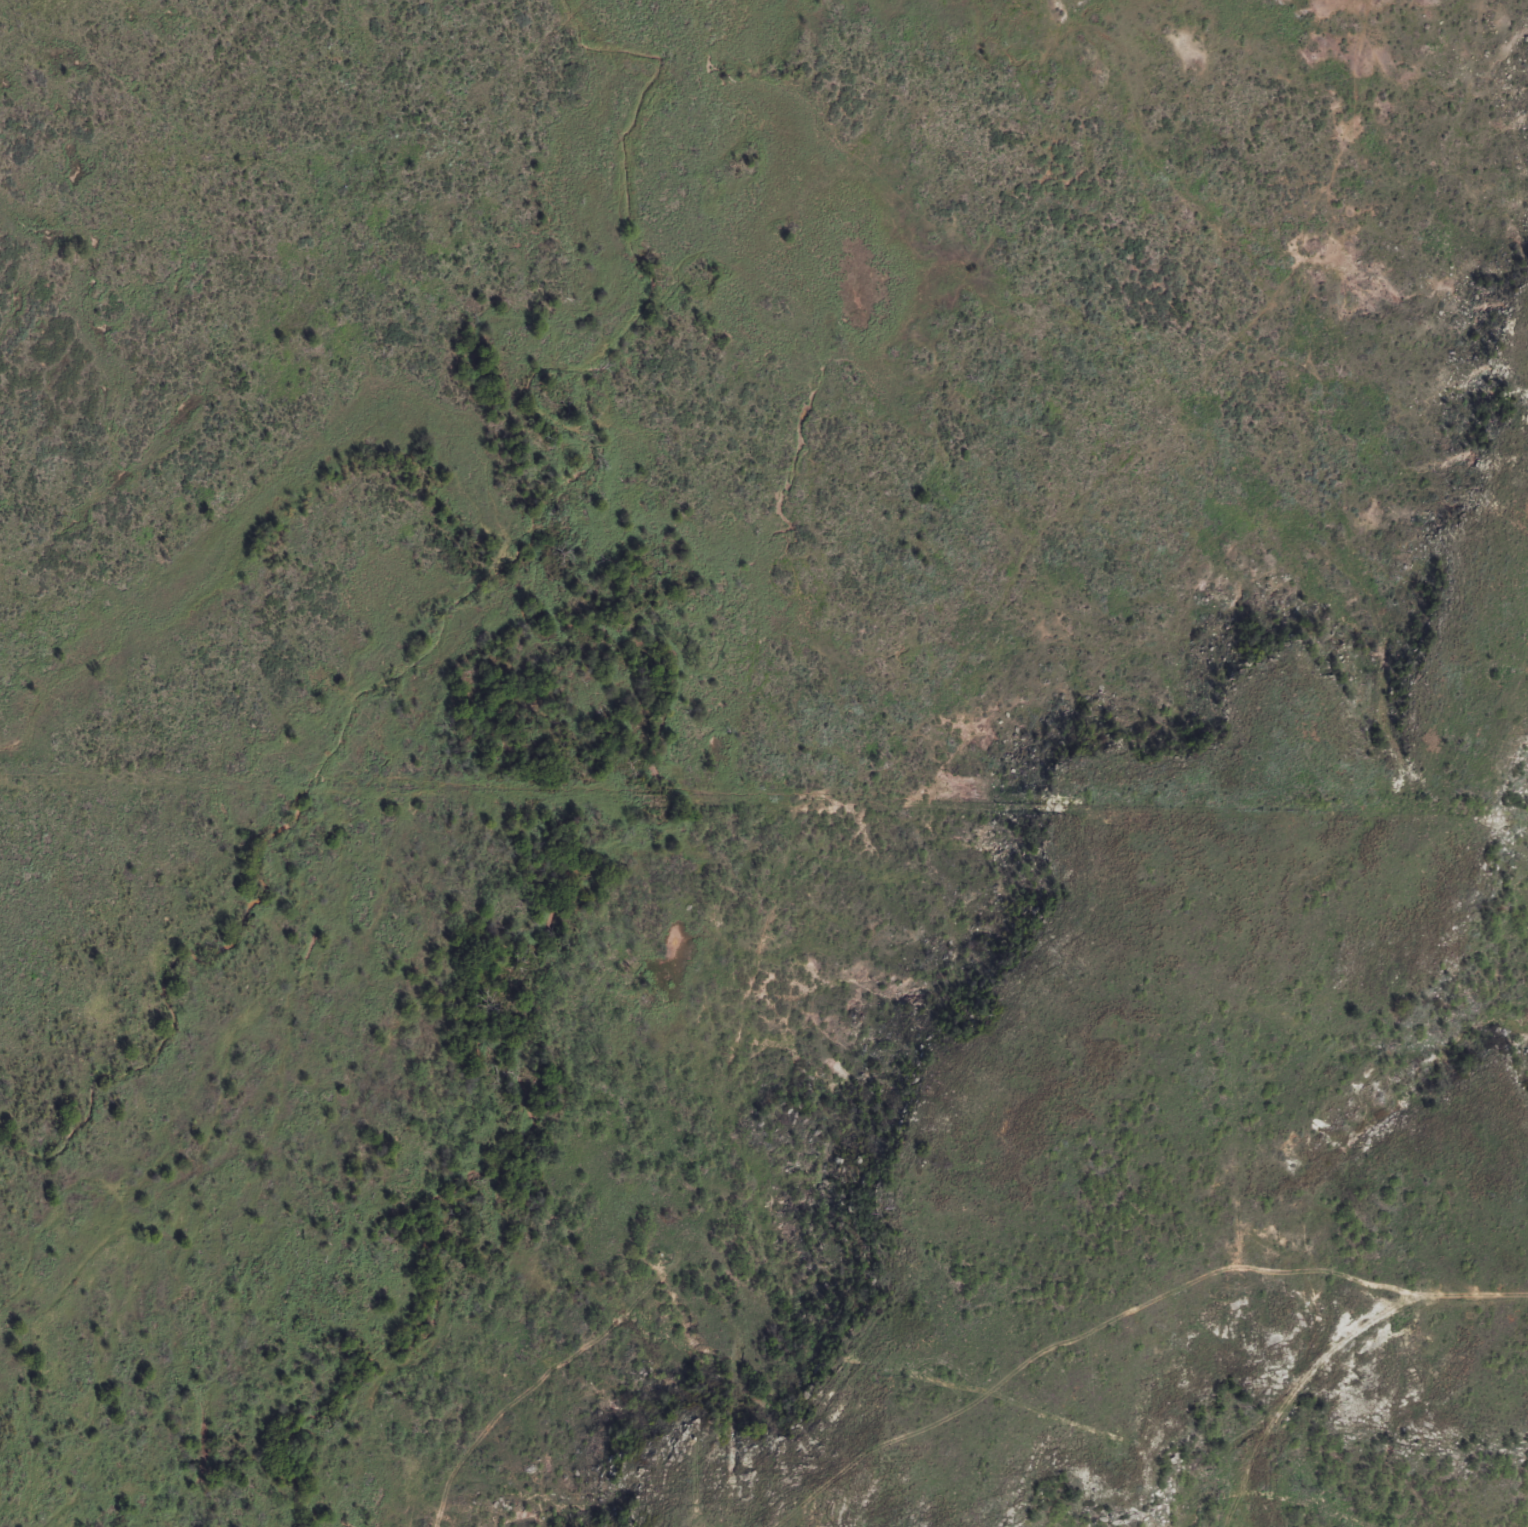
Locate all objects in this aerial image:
road: (1318, 1347)

